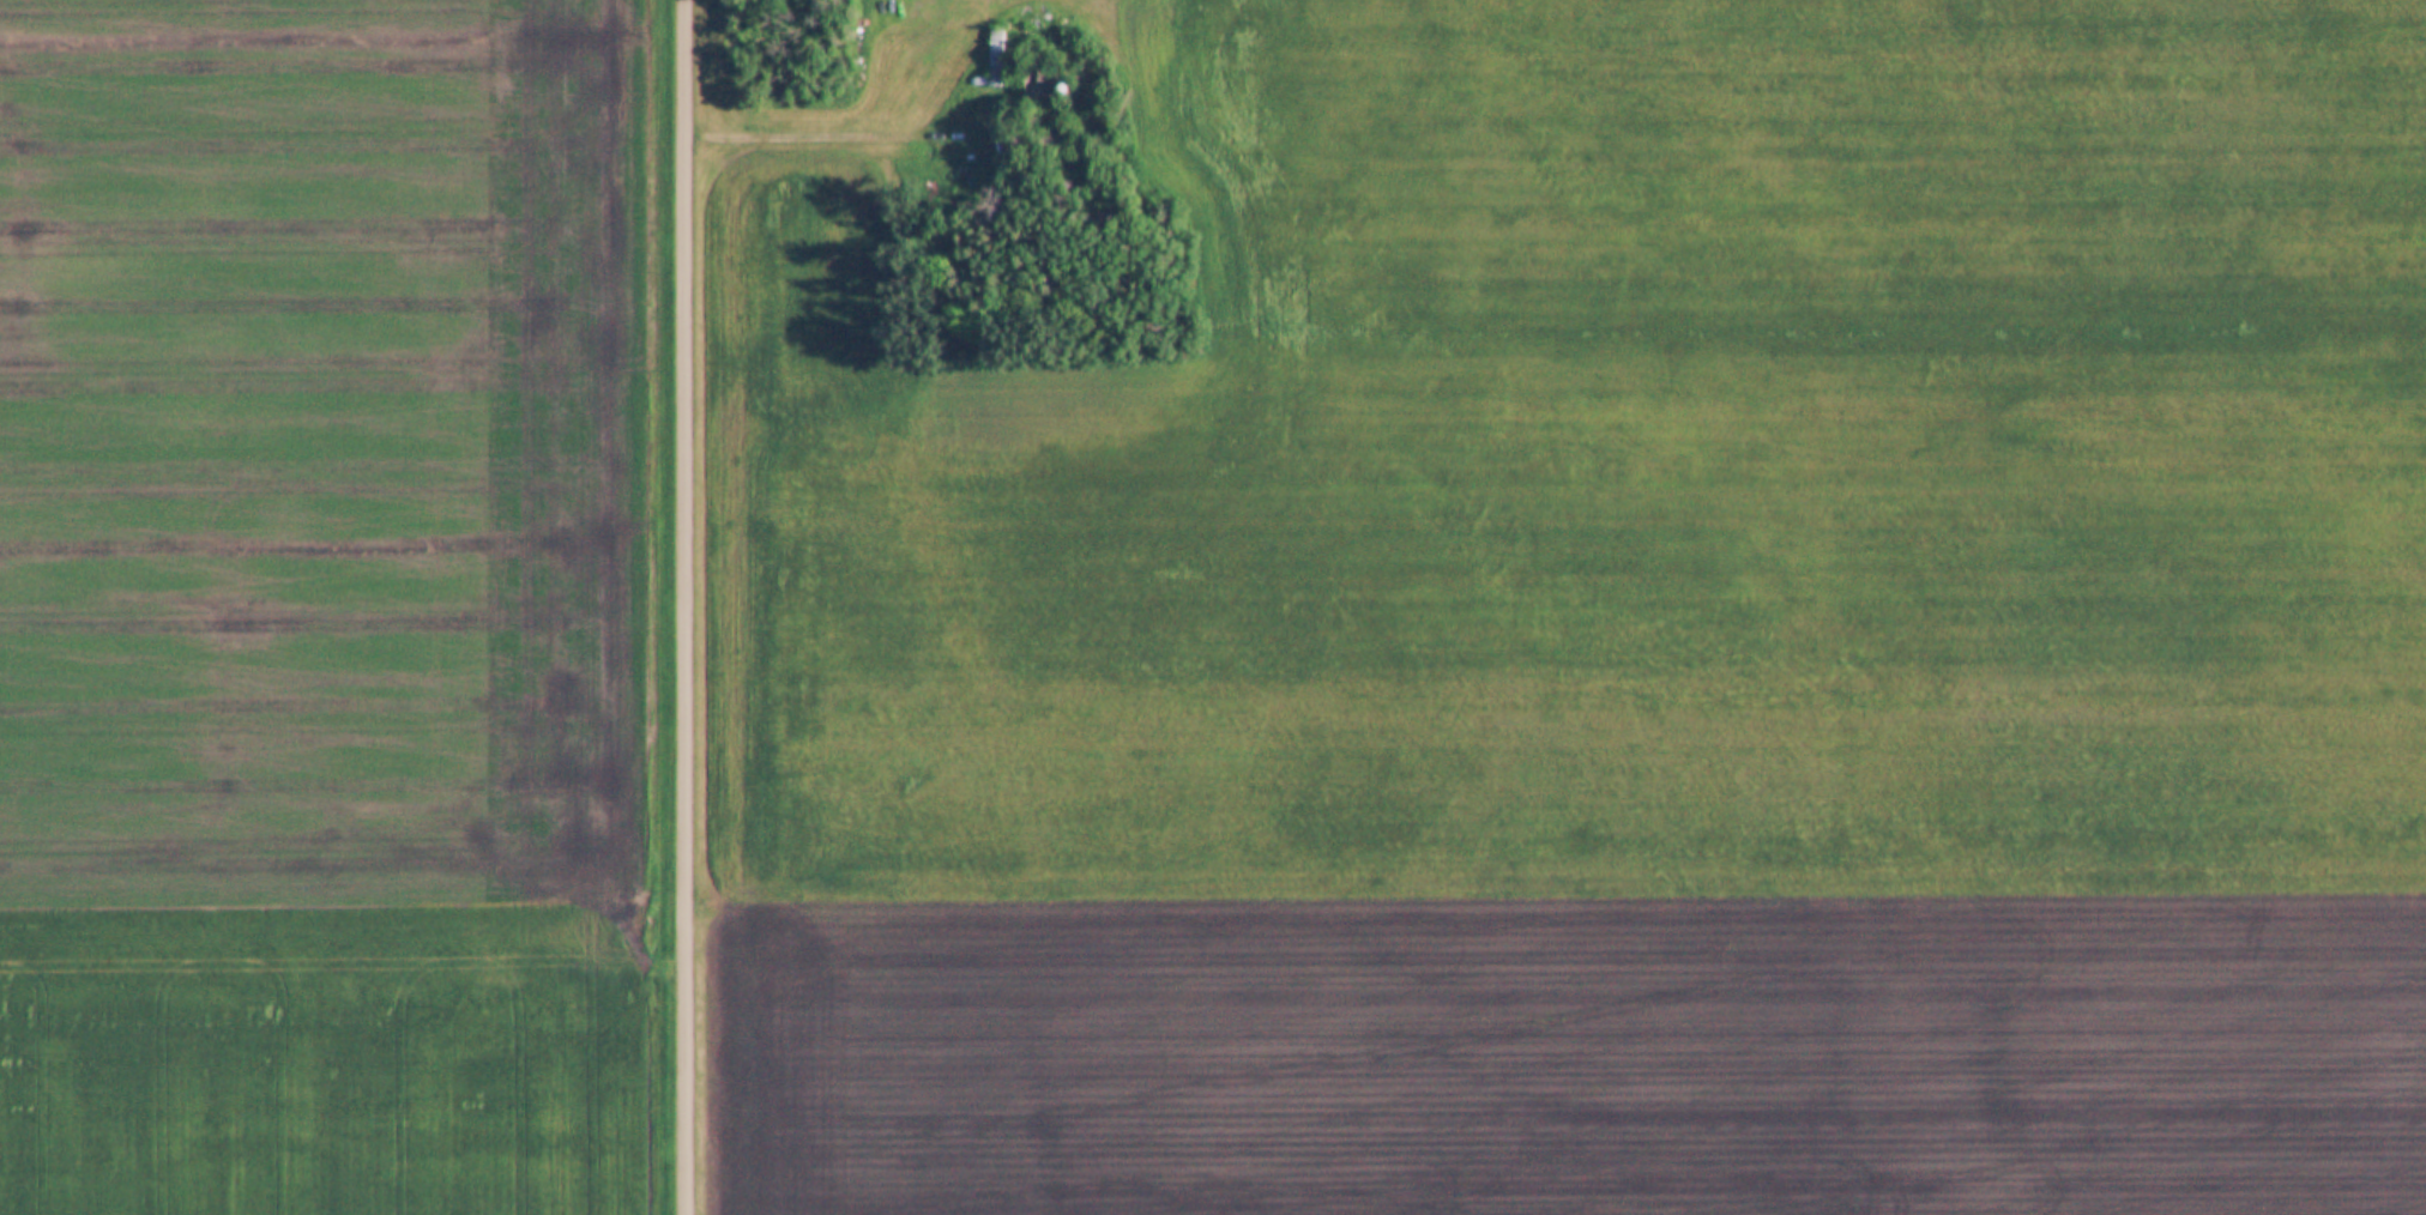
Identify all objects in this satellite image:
road: (853, 128)
road: (684, 606)

